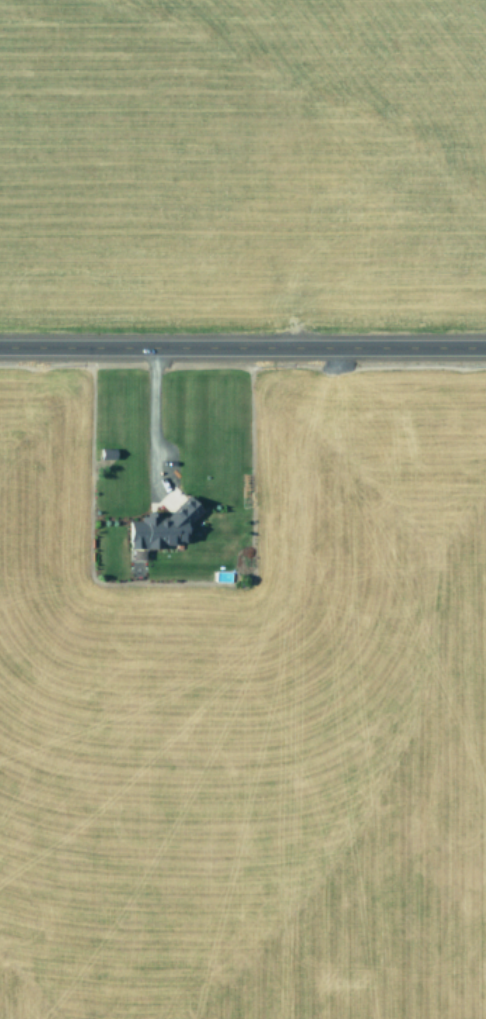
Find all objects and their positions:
crop: (243, 156)
road: (242, 346)
crop: (242, 691)

